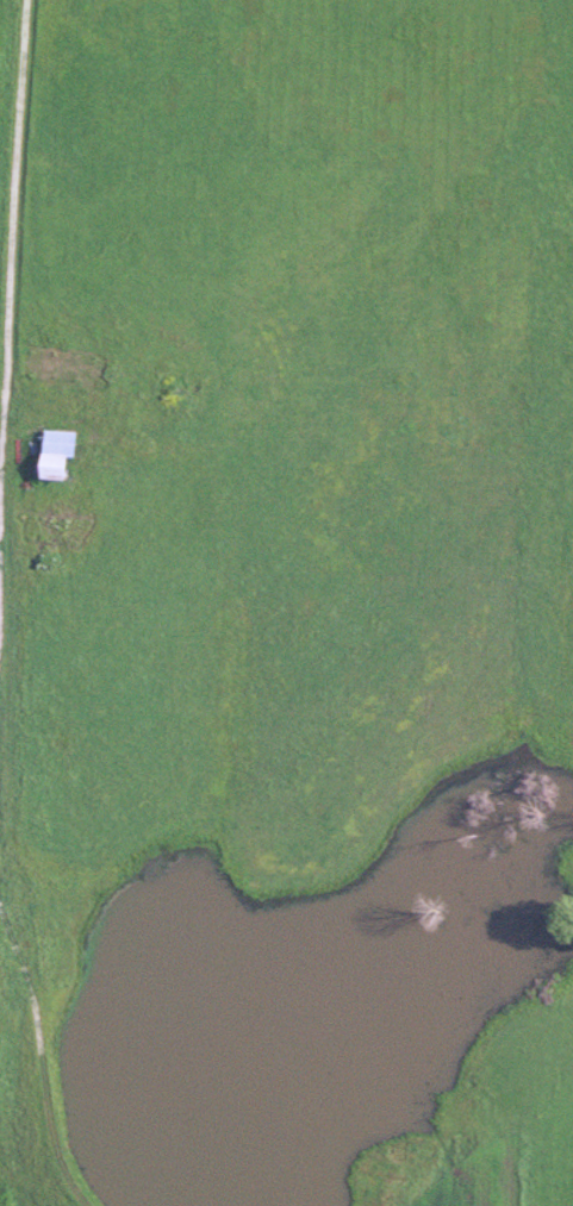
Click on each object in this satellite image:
road: (11, 204)
building: (50, 465)

